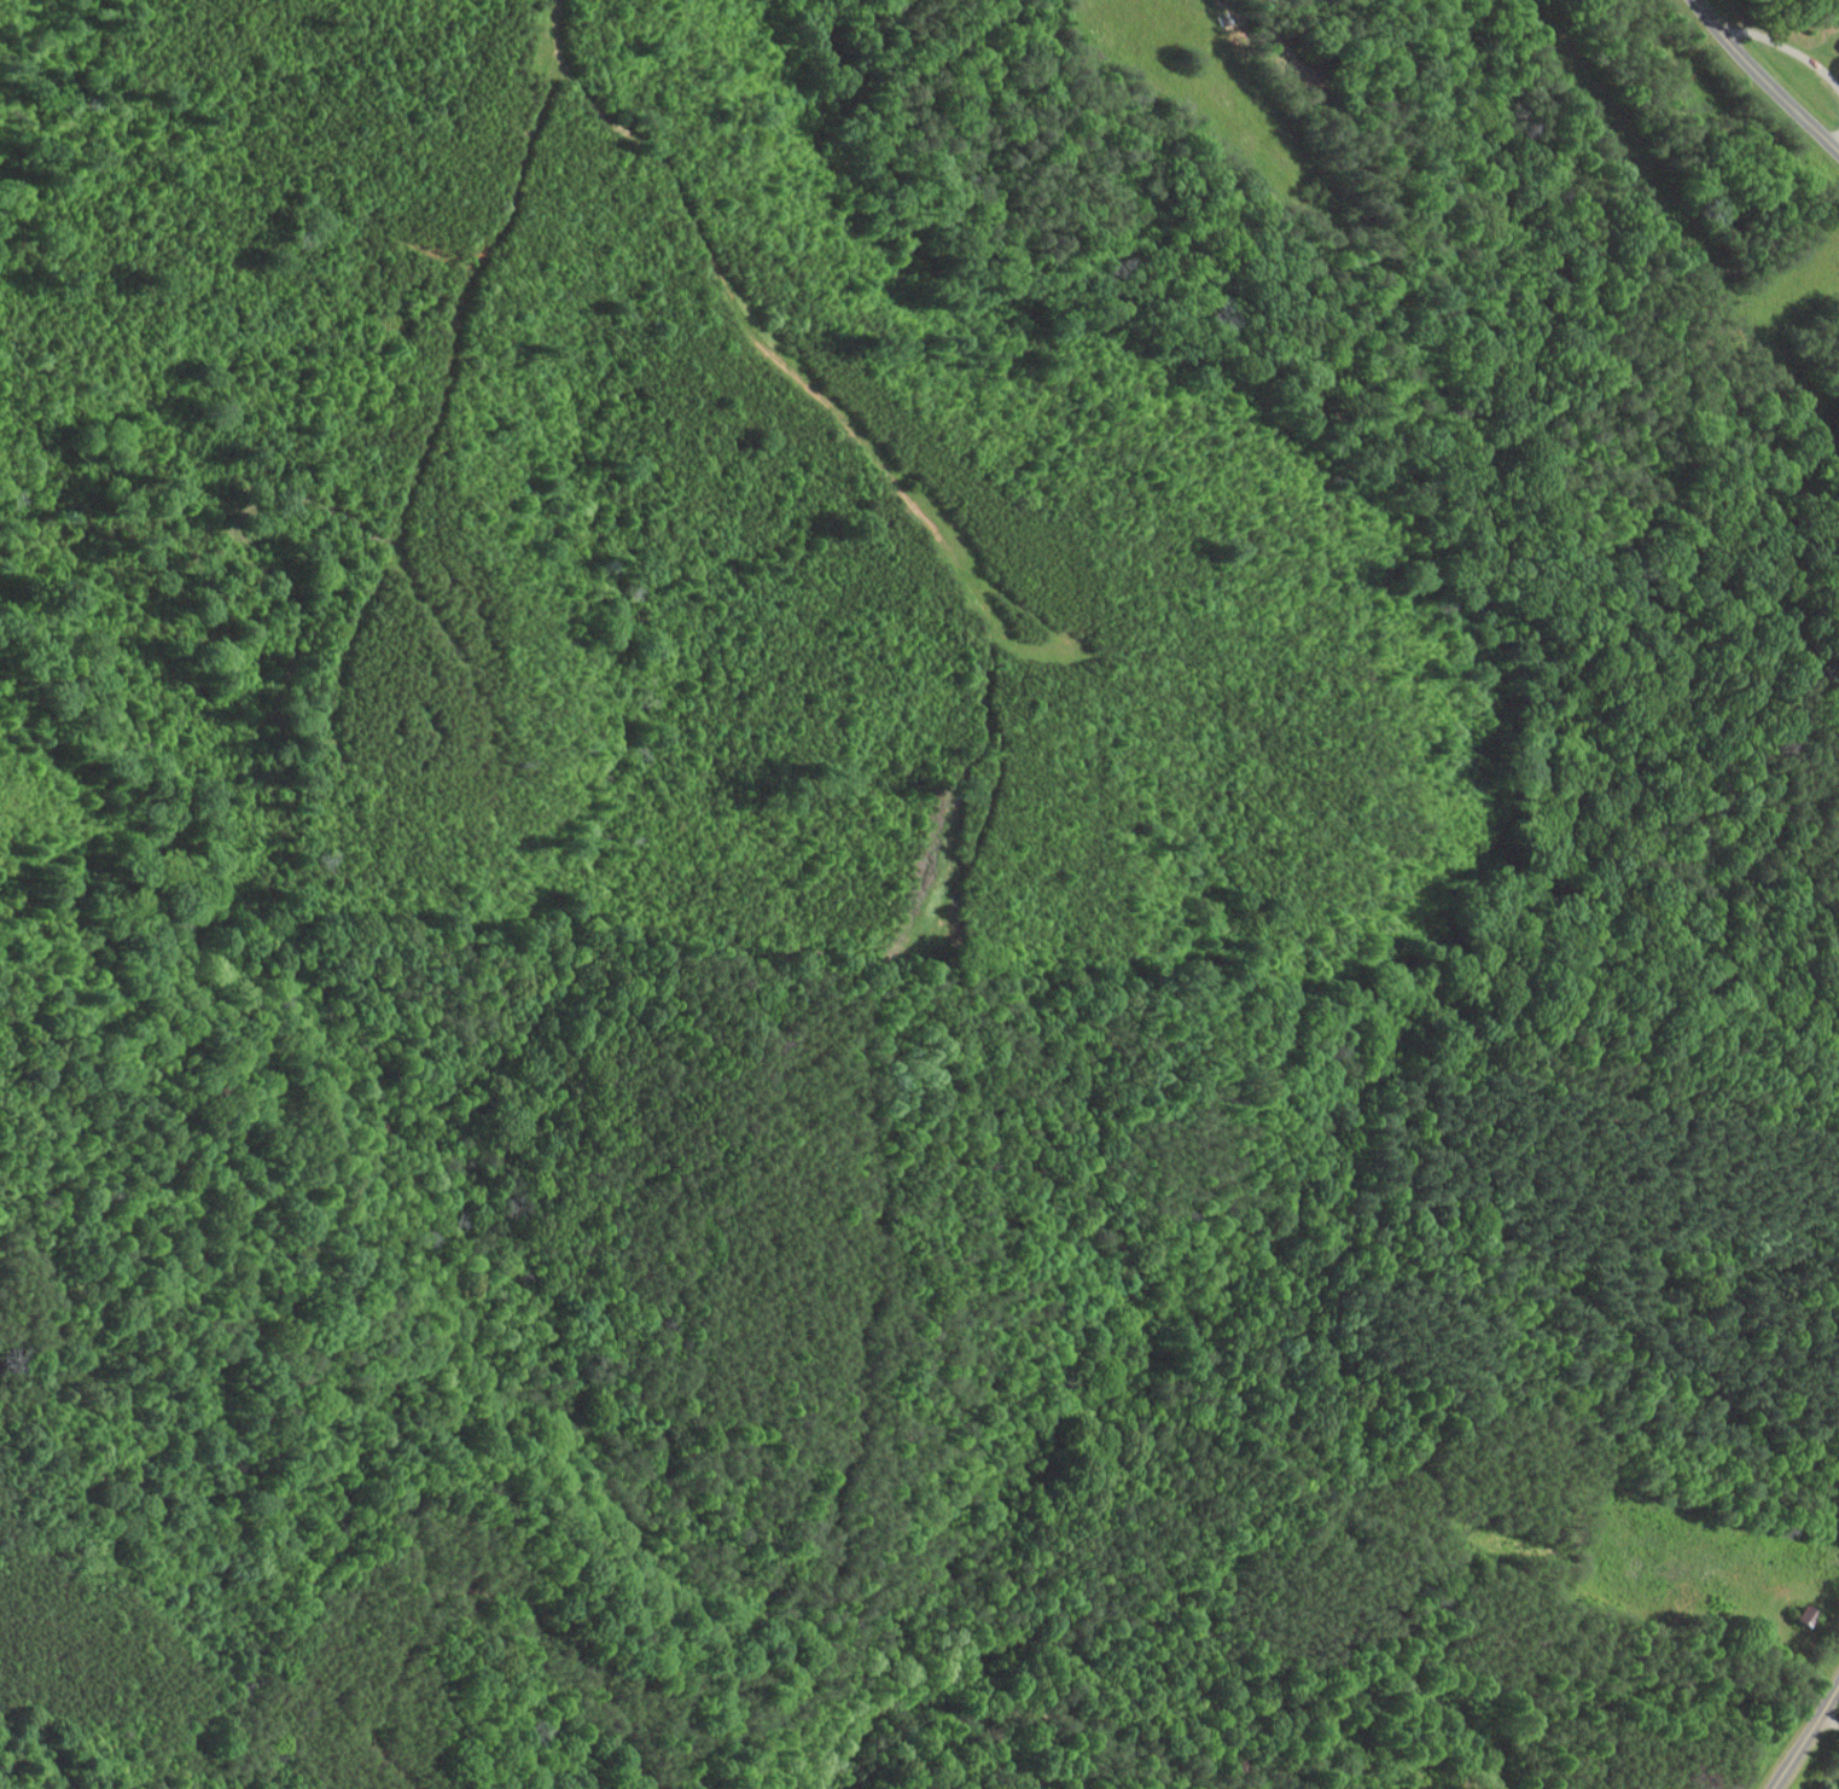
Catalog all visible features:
road: (1785, 46)
road: (1769, 76)
road: (1837, 144)
road: (1810, 1744)

